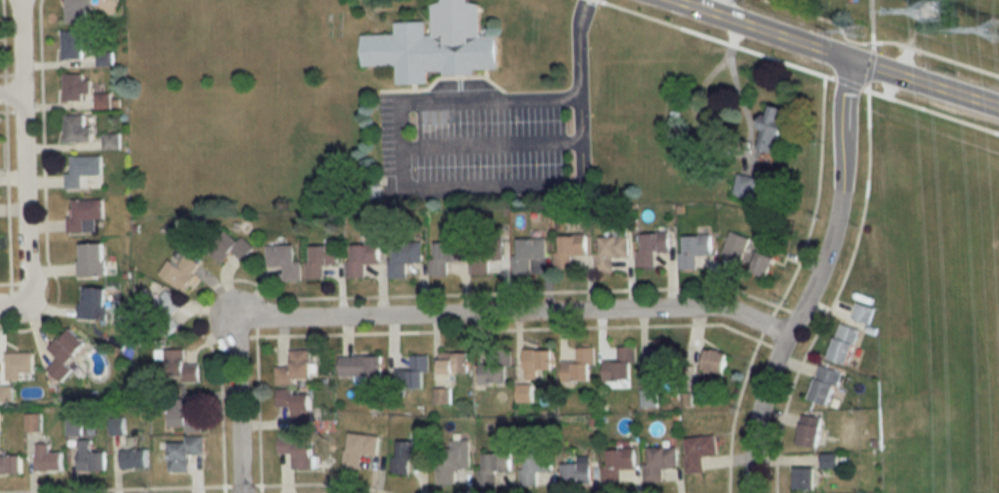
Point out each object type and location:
power tower: (940, 3)
road: (713, 7)
building: (74, 10)
park: (250, 19)
power tower: (860, 32)
road: (876, 42)
building: (430, 44)
building: (69, 45)
road: (834, 57)
road: (796, 67)
road: (462, 83)
building: (71, 87)
road: (577, 90)
road: (10, 92)
building: (105, 100)
building: (74, 128)
building: (759, 128)
park: (273, 139)
building: (109, 141)
road: (488, 143)
road: (397, 144)
road: (22, 150)
building: (82, 171)
building: (743, 185)
building: (83, 215)
building: (734, 242)
building: (651, 244)
building: (226, 247)
building: (565, 248)
building: (610, 248)
building: (694, 248)
building: (527, 252)
building: (483, 255)
building: (442, 257)
building: (281, 258)
building: (358, 258)
building: (319, 259)
building: (89, 261)
building: (399, 261)
building: (761, 261)
building: (179, 270)
road: (815, 281)
building: (91, 303)
road: (14, 305)
building: (865, 309)
building: (159, 312)
road: (430, 318)
building: (842, 343)
building: (63, 354)
building: (659, 355)
building: (711, 360)
building: (532, 361)
building: (451, 362)
building: (620, 362)
building: (577, 364)
building: (18, 365)
building: (356, 365)
building: (174, 366)
building: (291, 368)
building: (409, 373)
building: (490, 373)
building: (823, 383)
building: (524, 392)
building: (443, 395)
building: (649, 397)
building: (687, 398)
building: (296, 401)
building: (30, 422)
building: (115, 425)
building: (72, 427)
building: (809, 427)
building: (360, 448)
building: (180, 452)
building: (295, 452)
building: (696, 452)
building: (88, 457)
building: (402, 457)
building: (45, 458)
building: (131, 458)
building: (449, 459)
building: (830, 460)
building: (614, 461)
building: (658, 461)
building: (9, 464)
building: (491, 466)
building: (528, 469)
building: (574, 474)
building: (803, 476)

